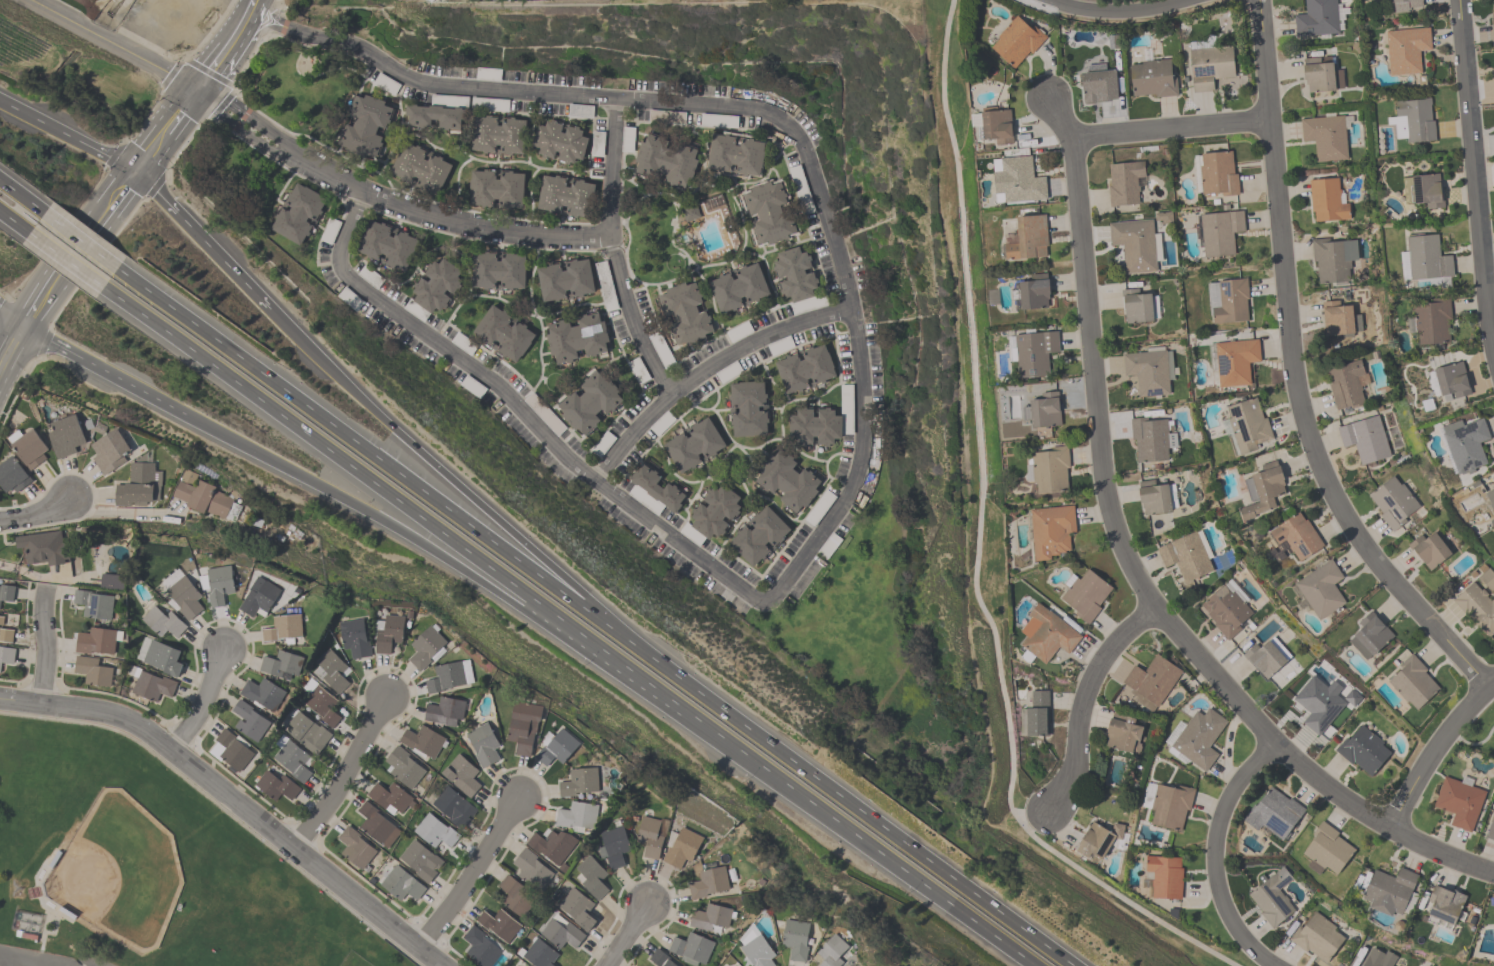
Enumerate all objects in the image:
road: (250, 4)
building: (1403, 5)
building: (1493, 6)
road: (1036, 7)
road: (1119, 11)
building: (1317, 18)
building: (1492, 18)
road: (238, 26)
building: (1016, 41)
road: (111, 43)
building: (1405, 49)
road: (210, 66)
building: (1209, 66)
building: (1321, 74)
building: (1152, 78)
building: (1098, 84)
traffic signals: (193, 89)
road: (208, 99)
road: (179, 110)
road: (768, 113)
road: (1059, 115)
building: (434, 117)
building: (1412, 120)
building: (719, 122)
road: (256, 125)
building: (365, 125)
building: (995, 126)
road: (1170, 128)
road: (249, 133)
building: (498, 135)
building: (1325, 135)
road: (68, 139)
building: (559, 142)
road: (151, 153)
building: (735, 155)
building: (665, 160)
building: (420, 169)
building: (1215, 173)
road: (1473, 174)
traffic signals: (136, 176)
building: (1016, 181)
building: (1124, 182)
building: (496, 189)
building: (1426, 190)
building: (801, 192)
building: (566, 196)
road: (22, 197)
building: (1326, 200)
road: (115, 203)
building: (689, 213)
building: (298, 214)
building: (768, 214)
road: (437, 218)
road: (14, 222)
building: (1219, 231)
building: (1027, 238)
road: (81, 241)
road: (202, 243)
building: (1134, 244)
building: (388, 245)
road: (77, 252)
road: (609, 252)
building: (1333, 259)
road: (67, 260)
building: (1427, 262)
building: (498, 271)
building: (795, 275)
building: (566, 281)
building: (437, 286)
building: (738, 287)
building: (1033, 293)
road: (42, 300)
building: (1227, 300)
building: (1136, 305)
building: (684, 313)
road: (11, 315)
building: (1339, 318)
building: (1431, 320)
building: (503, 334)
building: (574, 338)
road: (11, 349)
building: (1032, 352)
building: (1235, 361)
building: (805, 369)
road: (1299, 369)
road: (103, 371)
road: (707, 371)
building: (1149, 371)
building: (1448, 380)
building: (1345, 384)
building: (589, 403)
road: (520, 409)
building: (748, 410)
building: (1042, 410)
building: (1247, 424)
building: (815, 427)
building: (64, 435)
building: (1364, 438)
building: (1151, 439)
building: (1465, 444)
building: (693, 445)
building: (27, 447)
building: (108, 451)
building: (1048, 469)
road: (397, 472)
building: (12, 475)
building: (787, 481)
building: (139, 485)
building: (658, 488)
building: (1262, 492)
road: (472, 493)
building: (1153, 497)
building: (204, 500)
building: (1392, 502)
building: (1490, 505)
road: (121, 512)
building: (715, 512)
road: (39, 514)
building: (1050, 530)
building: (759, 536)
building: (1297, 536)
road: (976, 544)
building: (42, 547)
building: (1429, 549)
road: (428, 550)
building: (1186, 555)
building: (106, 562)
building: (1486, 578)
building: (111, 582)
building: (215, 584)
building: (1321, 588)
road: (1142, 590)
building: (6, 593)
building: (1084, 594)
building: (183, 597)
building: (258, 597)
building: (93, 604)
building: (1477, 607)
building: (1226, 609)
building: (1, 619)
building: (162, 622)
building: (283, 628)
road: (567, 629)
building: (387, 633)
building: (5, 635)
building: (1045, 635)
building: (1369, 636)
building: (354, 638)
building: (95, 641)
road: (43, 647)
building: (426, 647)
building: (6, 654)
building: (1266, 656)
building: (162, 657)
building: (281, 664)
building: (333, 670)
building: (92, 671)
building: (448, 676)
building: (1151, 681)
building: (1412, 682)
building: (149, 683)
building: (262, 694)
building: (1351, 697)
road: (1083, 699)
road: (201, 701)
building: (320, 702)
building: (1318, 703)
building: (444, 711)
building: (1035, 715)
building: (248, 720)
building: (522, 726)
building: (306, 731)
park: (1478, 732)
building: (1122, 733)
building: (1198, 738)
building: (423, 740)
building: (482, 744)
building: (554, 746)
road: (1471, 746)
road: (1434, 748)
building: (1363, 749)
building: (231, 750)
building: (292, 760)
building: (403, 767)
road: (342, 775)
building: (461, 775)
building: (578, 781)
building: (275, 785)
building: (389, 797)
building: (1458, 801)
road: (234, 803)
building: (1170, 805)
building: (453, 806)
building: (1274, 813)
building: (576, 815)
road: (872, 820)
building: (377, 825)
building: (1490, 829)
building: (434, 831)
building: (649, 836)
building: (1097, 839)
building: (552, 845)
building: (613, 845)
building: (355, 847)
building: (680, 847)
building: (1326, 850)
road: (1215, 859)
building: (419, 860)
building: (530, 869)
road: (470, 873)
building: (1164, 876)
building: (590, 877)
building: (708, 882)
building: (401, 884)
building: (1389, 890)
building: (513, 896)
building: (1272, 896)
building: (1444, 904)
building: (577, 908)
building: (710, 917)
building: (498, 924)
building: (560, 932)
road: (624, 936)
building: (1316, 937)
building: (795, 939)
building: (480, 947)
building: (691, 948)
building: (755, 948)
building: (831, 951)
building: (539, 953)
building: (660, 958)
building: (1378, 958)
road: (29, 960)
road: (4, 961)
road: (37, 964)
building: (522, 964)

